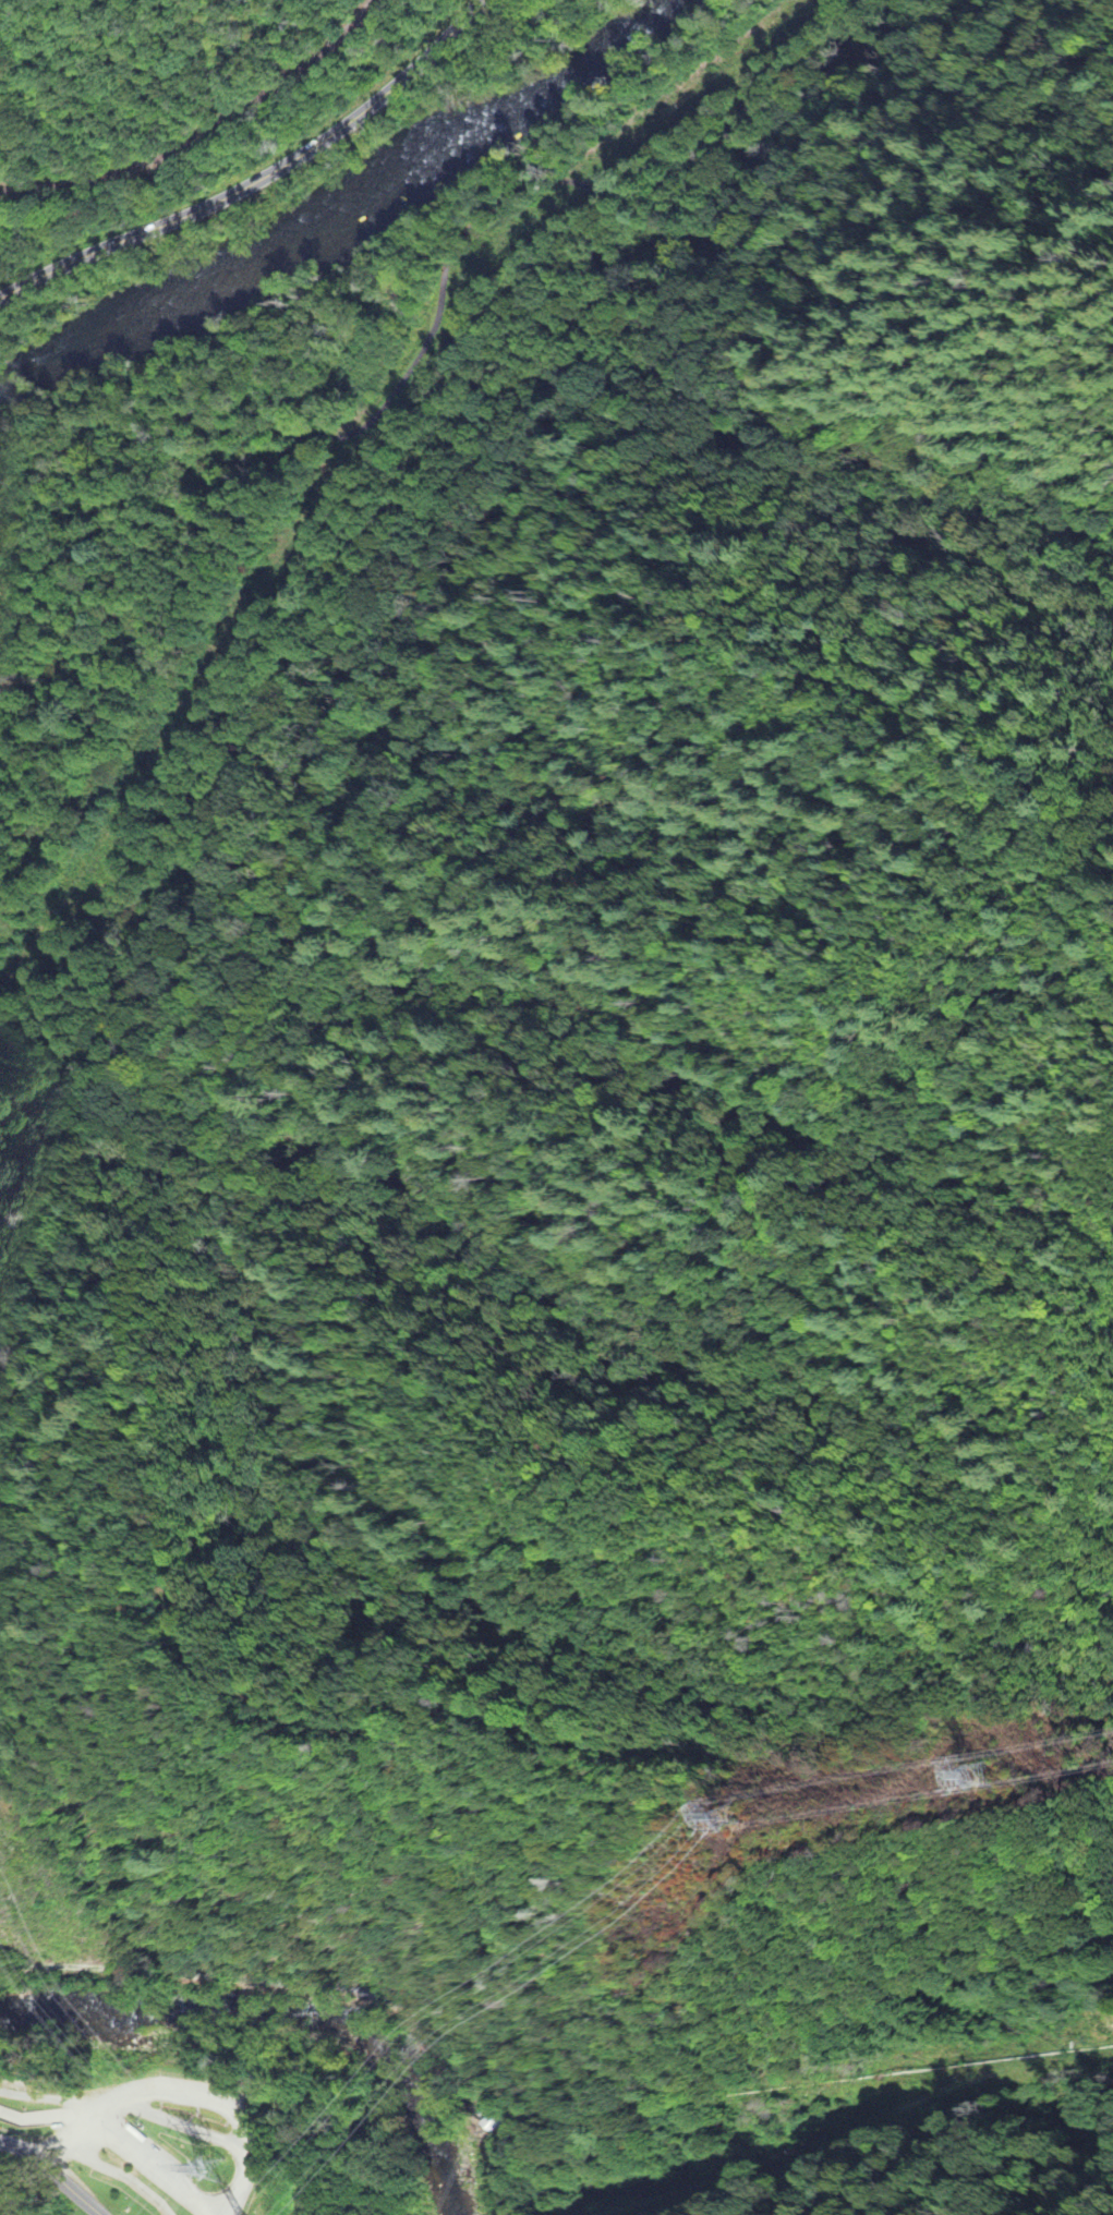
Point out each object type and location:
railway: (204, 133)
river: (455, 145)
road: (261, 179)
road: (443, 292)
river: (110, 332)
power tower: (983, 1778)
power tower: (730, 1821)
road: (265, 1981)
river: (286, 2008)
road: (46, 2098)
road: (44, 2118)
road: (202, 2120)
road: (63, 2137)
road: (21, 2149)
parking lot: (159, 2151)
road: (136, 2160)
power tower: (220, 2175)
road: (70, 2188)

